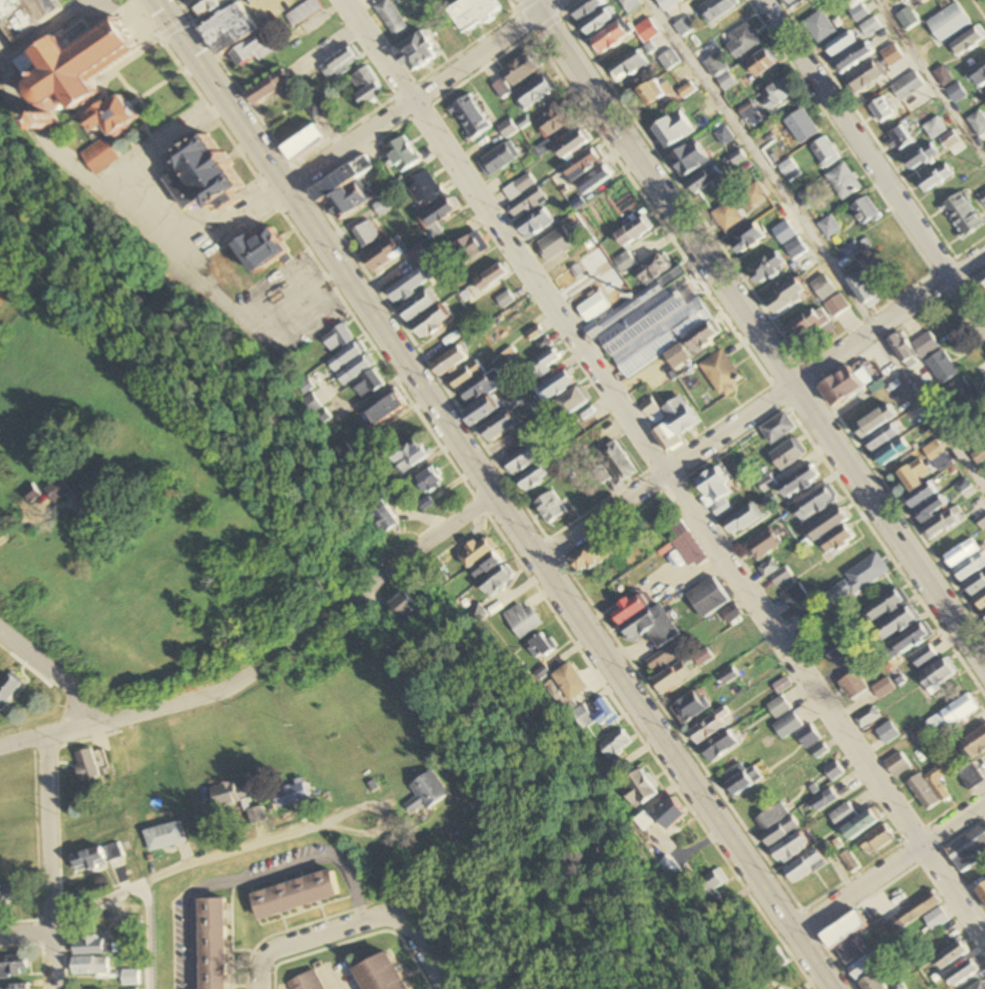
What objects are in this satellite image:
building: (918, 0)
building: (793, 3)
building: (628, 5)
building: (206, 7)
building: (585, 9)
building: (717, 9)
building: (856, 10)
building: (302, 12)
building: (471, 12)
building: (22, 14)
building: (389, 18)
building: (906, 19)
building: (597, 22)
building: (949, 23)
building: (819, 27)
building: (869, 27)
building: (227, 29)
traffic signals: (179, 30)
building: (646, 31)
road: (52, 33)
building: (609, 38)
building: (967, 41)
building: (741, 42)
building: (840, 45)
parking lot: (2, 48)
building: (249, 51)
building: (413, 52)
building: (891, 55)
building: (852, 57)
building: (338, 63)
building: (760, 63)
building: (715, 66)
building: (627, 67)
building: (514, 74)
building: (978, 74)
building: (69, 75)
building: (864, 77)
road: (929, 79)
building: (726, 82)
building: (364, 86)
building: (907, 86)
building: (266, 87)
building: (534, 91)
building: (780, 91)
road: (431, 96)
building: (881, 109)
building: (313, 110)
building: (110, 116)
building: (468, 117)
building: (554, 120)
building: (977, 123)
building: (801, 126)
building: (507, 128)
building: (934, 128)
building: (672, 130)
building: (723, 136)
building: (899, 138)
building: (949, 140)
building: (301, 143)
building: (572, 145)
building: (824, 152)
building: (400, 154)
building: (98, 156)
road: (874, 156)
building: (920, 156)
building: (689, 158)
building: (499, 159)
building: (583, 164)
building: (789, 170)
road: (103, 176)
building: (199, 176)
building: (935, 177)
building: (704, 180)
building: (595, 181)
building: (843, 181)
building: (518, 187)
building: (424, 189)
building: (754, 194)
building: (982, 196)
building: (809, 197)
building: (346, 199)
building: (526, 203)
building: (380, 207)
building: (865, 210)
building: (961, 215)
building: (437, 216)
building: (728, 216)
building: (535, 224)
building: (829, 226)
building: (632, 231)
building: (364, 233)
building: (746, 239)
building: (789, 239)
road: (819, 240)
building: (554, 243)
building: (854, 248)
building: (258, 249)
building: (468, 249)
building: (381, 255)
building: (415, 255)
building: (624, 262)
building: (766, 268)
building: (653, 269)
building: (983, 276)
building: (491, 277)
building: (408, 285)
building: (863, 289)
building: (786, 295)
building: (504, 300)
building: (418, 305)
building: (836, 306)
building: (430, 322)
building: (643, 322)
building: (807, 323)
road: (762, 326)
building: (533, 334)
building: (702, 336)
building: (335, 338)
building: (541, 343)
building: (925, 346)
building: (904, 351)
building: (344, 356)
building: (447, 362)
building: (545, 363)
building: (942, 368)
building: (354, 369)
building: (721, 374)
building: (464, 376)
building: (984, 376)
building: (366, 385)
building: (555, 387)
building: (840, 387)
building: (478, 391)
building: (963, 396)
building: (573, 401)
building: (309, 404)
building: (383, 409)
building: (650, 409)
building: (480, 412)
road: (765, 412)
building: (979, 420)
building: (875, 423)
building: (674, 424)
building: (499, 427)
building: (777, 429)
building: (882, 439)
building: (934, 452)
building: (892, 453)
building: (788, 454)
building: (406, 455)
building: (979, 455)
building: (342, 456)
building: (524, 460)
building: (617, 463)
road: (669, 464)
building: (533, 479)
building: (428, 480)
building: (798, 483)
building: (916, 484)
building: (715, 492)
building: (29, 493)
road: (495, 495)
building: (76, 499)
building: (815, 505)
building: (550, 508)
building: (930, 510)
building: (382, 516)
building: (743, 520)
building: (981, 521)
building: (943, 523)
building: (827, 525)
building: (837, 540)
building: (763, 544)
building: (685, 545)
building: (477, 552)
building: (961, 553)
building: (596, 554)
building: (970, 568)
building: (774, 572)
building: (436, 573)
building: (866, 573)
building: (492, 576)
building: (976, 584)
building: (708, 597)
building: (981, 601)
building: (800, 604)
building: (886, 605)
building: (403, 606)
building: (475, 613)
building: (731, 613)
building: (984, 613)
building: (522, 620)
building: (645, 621)
building: (897, 623)
building: (539, 646)
building: (839, 648)
building: (703, 657)
building: (923, 657)
building: (663, 660)
road: (267, 663)
road: (54, 675)
building: (937, 675)
building: (729, 676)
building: (673, 678)
building: (569, 682)
building: (853, 686)
building: (9, 688)
building: (883, 688)
building: (779, 708)
building: (689, 709)
building: (959, 710)
building: (605, 714)
building: (581, 717)
building: (867, 718)
building: (934, 722)
building: (708, 729)
building: (797, 731)
building: (888, 733)
building: (975, 743)
building: (615, 745)
building: (720, 747)
building: (820, 752)
building: (897, 765)
building: (86, 766)
building: (609, 772)
building: (834, 772)
building: (971, 777)
building: (939, 778)
building: (741, 780)
building: (638, 790)
building: (424, 793)
building: (924, 793)
building: (229, 795)
building: (291, 796)
building: (824, 801)
building: (669, 815)
building: (842, 815)
building: (772, 818)
building: (860, 826)
building: (780, 833)
road: (50, 834)
building: (165, 837)
building: (877, 840)
road: (272, 844)
building: (790, 849)
building: (968, 850)
building: (97, 857)
building: (849, 862)
road: (890, 866)
building: (805, 867)
building: (711, 883)
building: (982, 893)
building: (295, 895)
building: (11, 896)
road: (136, 902)
building: (912, 913)
road: (371, 920)
building: (937, 920)
building: (844, 931)
road: (27, 933)
building: (211, 944)
building: (93, 947)
building: (850, 952)
building: (952, 956)
road: (55, 960)
building: (773, 961)
building: (13, 966)
building: (90, 966)
building: (866, 967)
road: (263, 973)
building: (382, 974)
building: (963, 974)
building: (129, 977)

